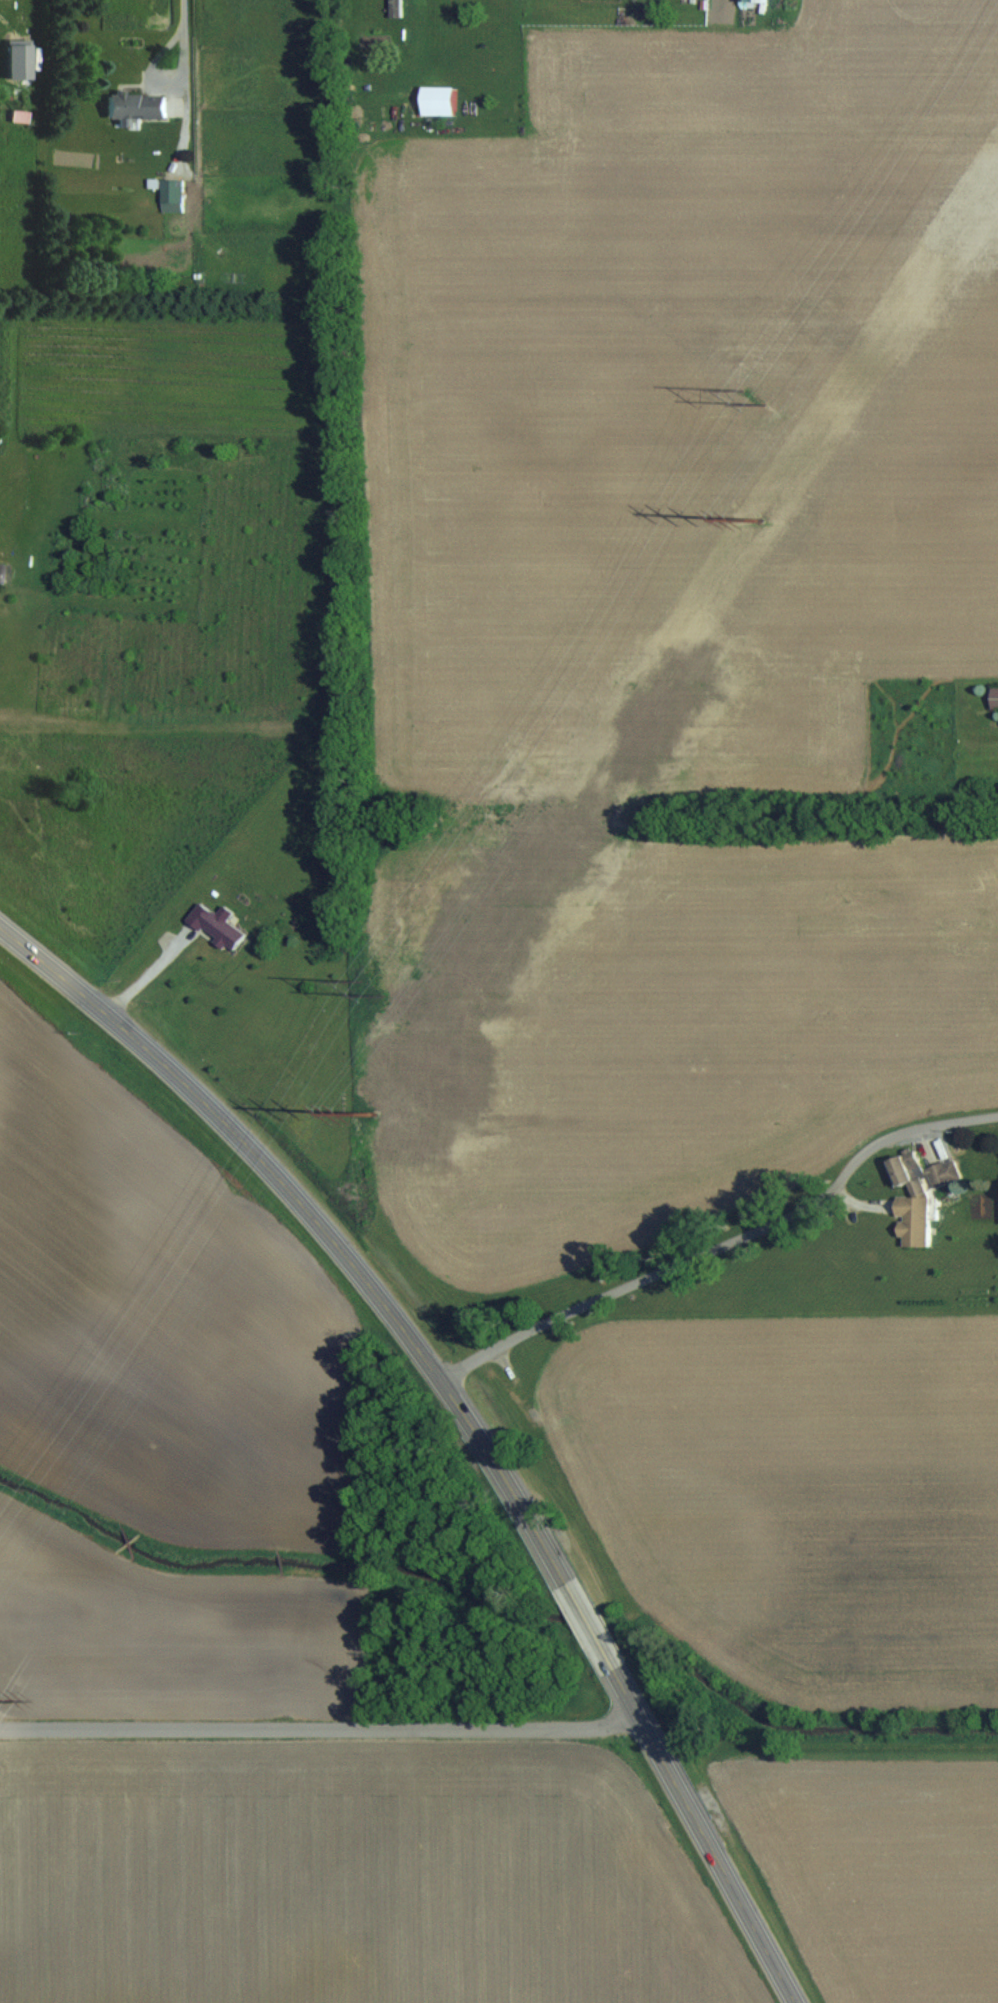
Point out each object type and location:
building: (754, 1)
building: (393, 8)
road: (184, 13)
road: (416, 33)
road: (160, 75)
building: (436, 100)
building: (133, 106)
building: (171, 190)
power tower: (753, 394)
power tower: (764, 521)
building: (1, 573)
building: (994, 697)
building: (216, 926)
road: (147, 972)
power tower: (370, 988)
power tower: (380, 1107)
building: (918, 1192)
road: (318, 1224)
road: (722, 1244)
road: (588, 1626)
road: (319, 1729)
road: (703, 1836)

